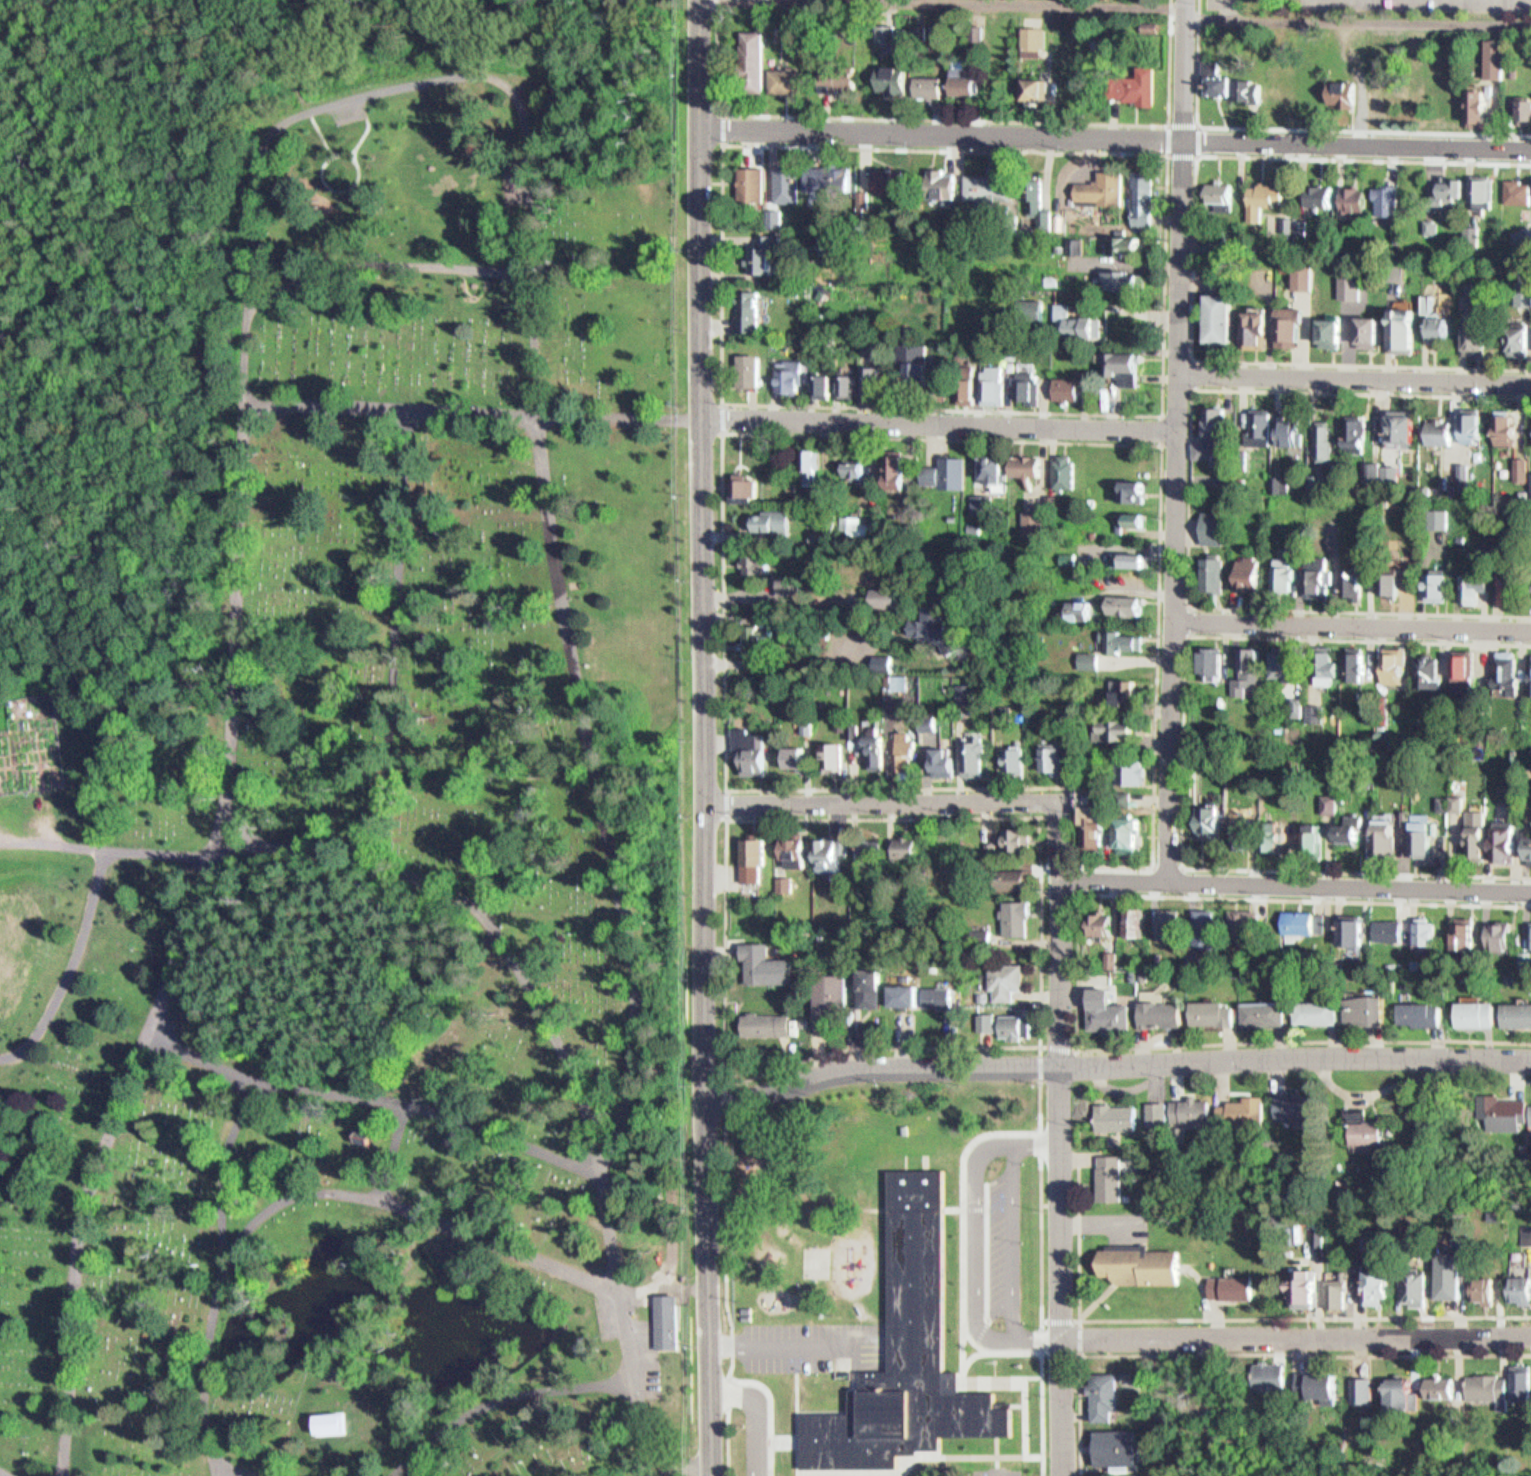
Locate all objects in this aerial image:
parking lot: (1219, 6)
parking lot: (1422, 7)
road: (1117, 16)
building: (800, 28)
building: (909, 28)
building: (889, 29)
building: (925, 31)
building: (941, 33)
building: (975, 35)
building: (1033, 39)
building: (1382, 44)
building: (1027, 49)
building: (1355, 51)
building: (1378, 56)
building: (1497, 57)
road: (254, 59)
building: (753, 59)
road: (117, 65)
building: (1490, 73)
building: (841, 75)
building: (895, 77)
building: (1207, 77)
building: (789, 78)
road: (416, 81)
building: (966, 81)
building: (929, 85)
building: (1250, 90)
building: (1344, 93)
building: (1130, 95)
building: (1213, 97)
building: (1242, 102)
building: (1031, 103)
building: (1481, 106)
building: (1525, 106)
building: (1338, 109)
building: (1471, 110)
road: (951, 119)
building: (1521, 123)
road: (724, 128)
road: (1300, 129)
road: (1116, 139)
road: (1195, 155)
building: (836, 178)
building: (892, 180)
building: (946, 184)
building: (823, 188)
building: (1483, 188)
building: (1143, 190)
building: (1518, 190)
building: (1220, 192)
building: (1321, 194)
building: (937, 195)
building: (749, 196)
building: (888, 196)
building: (986, 196)
building: (786, 198)
building: (1355, 199)
building: (1388, 199)
building: (1100, 201)
building: (1447, 201)
building: (1476, 202)
building: (1213, 204)
building: (1512, 204)
building: (1038, 207)
building: (1259, 207)
building: (1314, 208)
building: (860, 210)
building: (1349, 210)
building: (1383, 213)
road: (149, 223)
building: (769, 230)
building: (1427, 238)
building: (1216, 243)
building: (1075, 245)
building: (1130, 245)
building: (1469, 245)
building: (1521, 249)
building: (1212, 257)
road: (389, 264)
road: (1192, 265)
building: (761, 267)
building: (1219, 274)
building: (1305, 276)
building: (1123, 279)
building: (1212, 287)
building: (1352, 287)
road: (48, 289)
building: (1062, 290)
building: (1299, 290)
building: (1115, 293)
building: (1347, 298)
building: (1520, 305)
building: (1465, 308)
building: (753, 309)
building: (1221, 317)
building: (1425, 318)
building: (1075, 323)
building: (747, 324)
building: (1292, 325)
building: (1443, 327)
building: (1372, 328)
building: (1408, 329)
building: (1213, 331)
building: (1334, 331)
building: (1521, 337)
building: (1250, 338)
building: (1284, 338)
building: (1435, 339)
building: (1480, 339)
building: (1077, 340)
building: (1399, 341)
building: (1364, 343)
building: (1326, 344)
building: (1514, 351)
building: (1471, 353)
building: (918, 360)
building: (753, 368)
road: (1191, 370)
building: (1119, 374)
building: (910, 379)
building: (875, 381)
building: (745, 382)
building: (1028, 382)
building: (825, 384)
building: (851, 385)
building: (1073, 385)
road: (1354, 388)
building: (787, 391)
building: (867, 393)
building: (1068, 396)
building: (989, 397)
building: (844, 398)
building: (819, 399)
building: (1020, 401)
road: (463, 415)
road: (1160, 424)
building: (1510, 424)
building: (1406, 425)
building: (1475, 425)
building: (1262, 427)
road: (723, 429)
building: (1292, 429)
building: (1442, 430)
building: (1359, 432)
road: (940, 435)
building: (1466, 439)
road: (1177, 440)
building: (1327, 441)
building: (1396, 442)
building: (1210, 444)
building: (1284, 444)
building: (1434, 444)
building: (1499, 444)
road: (146, 445)
building: (1254, 445)
building: (1352, 445)
road: (1161, 455)
building: (1320, 458)
building: (811, 462)
building: (1199, 464)
building: (1028, 465)
building: (897, 470)
building: (1066, 470)
building: (805, 476)
building: (888, 479)
building: (1019, 479)
building: (742, 481)
building: (847, 482)
building: (1369, 482)
building: (1515, 482)
building: (946, 483)
building: (1317, 483)
building: (1387, 483)
building: (1459, 483)
building: (924, 485)
building: (1057, 485)
building: (1281, 485)
building: (1136, 488)
building: (1274, 495)
building: (1312, 495)
building: (975, 496)
building: (1529, 496)
building: (1127, 502)
building: (948, 512)
road: (1188, 512)
building: (768, 517)
building: (1131, 517)
building: (849, 519)
road: (1159, 520)
building: (971, 521)
building: (1032, 523)
building: (1214, 526)
building: (1434, 530)
building: (1126, 531)
building: (811, 533)
building: (1027, 536)
building: (1208, 540)
building: (1295, 542)
building: (1292, 554)
building: (753, 558)
building: (1129, 559)
building: (1124, 571)
road: (6, 573)
building: (1251, 573)
building: (1288, 574)
building: (1215, 575)
building: (787, 580)
building: (1357, 581)
building: (1392, 582)
building: (1206, 586)
building: (1243, 586)
building: (1474, 586)
building: (1280, 587)
building: (1347, 592)
building: (884, 593)
building: (1314, 594)
building: (1384, 596)
building: (1432, 598)
building: (1530, 598)
building: (1469, 599)
building: (1505, 600)
building: (1126, 604)
building: (1080, 610)
building: (1119, 615)
road: (1183, 617)
building: (931, 623)
building: (945, 627)
building: (760, 634)
road: (1351, 637)
road: (390, 640)
building: (1122, 640)
building: (749, 646)
building: (1119, 653)
building: (881, 656)
building: (1214, 661)
building: (1287, 664)
building: (1359, 665)
building: (1396, 666)
building: (1329, 667)
building: (1463, 669)
building: (1249, 671)
building: (1429, 671)
building: (1083, 672)
building: (1509, 673)
building: (964, 689)
building: (1126, 692)
building: (1121, 705)
building: (1315, 712)
building: (926, 716)
building: (804, 722)
building: (850, 725)
building: (1124, 728)
road: (705, 738)
building: (746, 742)
building: (1071, 742)
building: (874, 743)
building: (1108, 745)
building: (902, 748)
building: (829, 750)
building: (791, 751)
building: (971, 752)
building: (1048, 753)
building: (940, 755)
building: (1012, 755)
road: (1182, 757)
building: (1135, 771)
building: (1124, 783)
road: (883, 802)
building: (1450, 802)
building: (1329, 803)
road: (724, 804)
building: (1088, 807)
road: (612, 813)
building: (1213, 821)
building: (1098, 825)
building: (1353, 827)
building: (1132, 831)
building: (1245, 831)
road: (253, 832)
building: (1478, 833)
building: (1425, 834)
park: (392, 835)
building: (1004, 835)
building: (1386, 835)
building: (1019, 838)
building: (1091, 838)
building: (867, 839)
building: (1315, 839)
building: (1507, 839)
building: (901, 840)
building: (1274, 840)
building: (829, 846)
building: (1123, 846)
building: (791, 847)
building: (873, 849)
building: (748, 851)
road: (1152, 866)
building: (1008, 873)
building: (780, 877)
road: (1078, 878)
building: (784, 883)
road: (1296, 883)
building: (1013, 912)
building: (1135, 921)
building: (1307, 922)
building: (1171, 923)
building: (1102, 924)
building: (1245, 925)
building: (1388, 931)
building: (1210, 932)
building: (1427, 932)
building: (1353, 933)
building: (977, 934)
building: (1501, 934)
building: (1466, 935)
building: (1530, 935)
road: (183, 944)
building: (757, 958)
road: (512, 960)
road: (76, 970)
road: (1077, 970)
building: (1001, 973)
building: (867, 982)
building: (827, 989)
building: (900, 989)
building: (933, 990)
building: (911, 995)
building: (1369, 1009)
building: (1164, 1011)
building: (1319, 1011)
building: (1111, 1012)
building: (1214, 1012)
building: (1266, 1012)
building: (1424, 1013)
building: (1478, 1013)
building: (1518, 1013)
building: (1004, 1019)
building: (761, 1024)
road: (1024, 1046)
road: (1042, 1046)
road: (1117, 1062)
road: (1475, 1079)
road: (370, 1095)
road: (727, 1097)
building: (1299, 1108)
building: (1245, 1110)
building: (1197, 1112)
building: (1504, 1113)
building: (1160, 1114)
building: (1120, 1117)
building: (1370, 1130)
building: (366, 1136)
road: (1062, 1138)
road: (385, 1151)
building: (1113, 1177)
road: (254, 1185)
road: (412, 1214)
road: (960, 1221)
building: (1528, 1233)
road: (975, 1235)
building: (1144, 1264)
building: (1450, 1275)
road: (222, 1277)
road: (1043, 1278)
building: (1378, 1286)
building: (1232, 1287)
building: (1305, 1288)
building: (1344, 1288)
building: (1415, 1288)
building: (1485, 1289)
building: (1522, 1289)
road: (728, 1296)
building: (665, 1316)
road: (1229, 1317)
road: (1077, 1321)
road: (970, 1332)
road: (1297, 1336)
road: (1000, 1344)
building: (909, 1353)
road: (1245, 1354)
building: (1272, 1377)
building: (1519, 1379)
road: (987, 1383)
building: (1442, 1387)
building: (1489, 1387)
building: (1318, 1388)
road: (590, 1389)
building: (1362, 1389)
building: (1402, 1394)
building: (1107, 1396)
road: (1026, 1404)
road: (476, 1415)
building: (328, 1416)
building: (1120, 1446)
road: (999, 1454)
road: (970, 1457)
road: (240, 1471)
road: (4, 1473)
road: (384, 1475)
park: (880, 1475)

